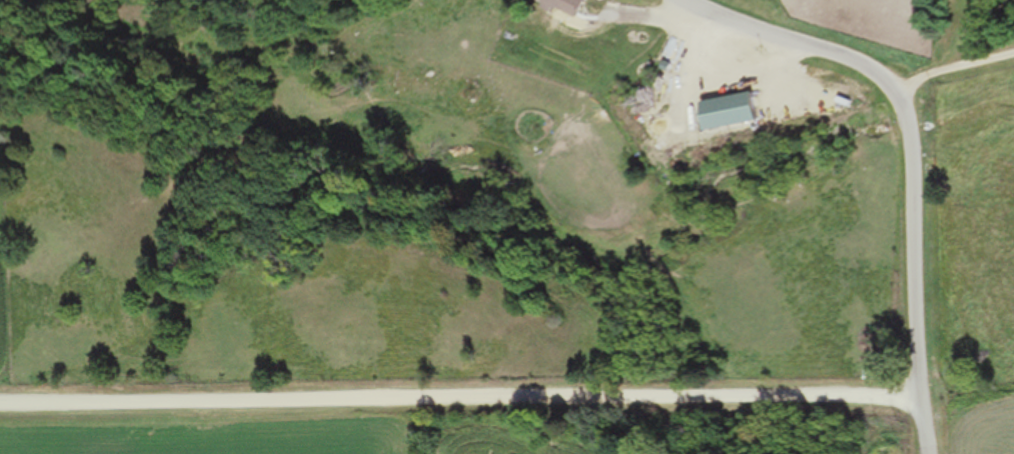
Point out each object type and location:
building: (569, 6)
road: (960, 71)
building: (743, 111)
road: (915, 149)
road: (465, 416)

